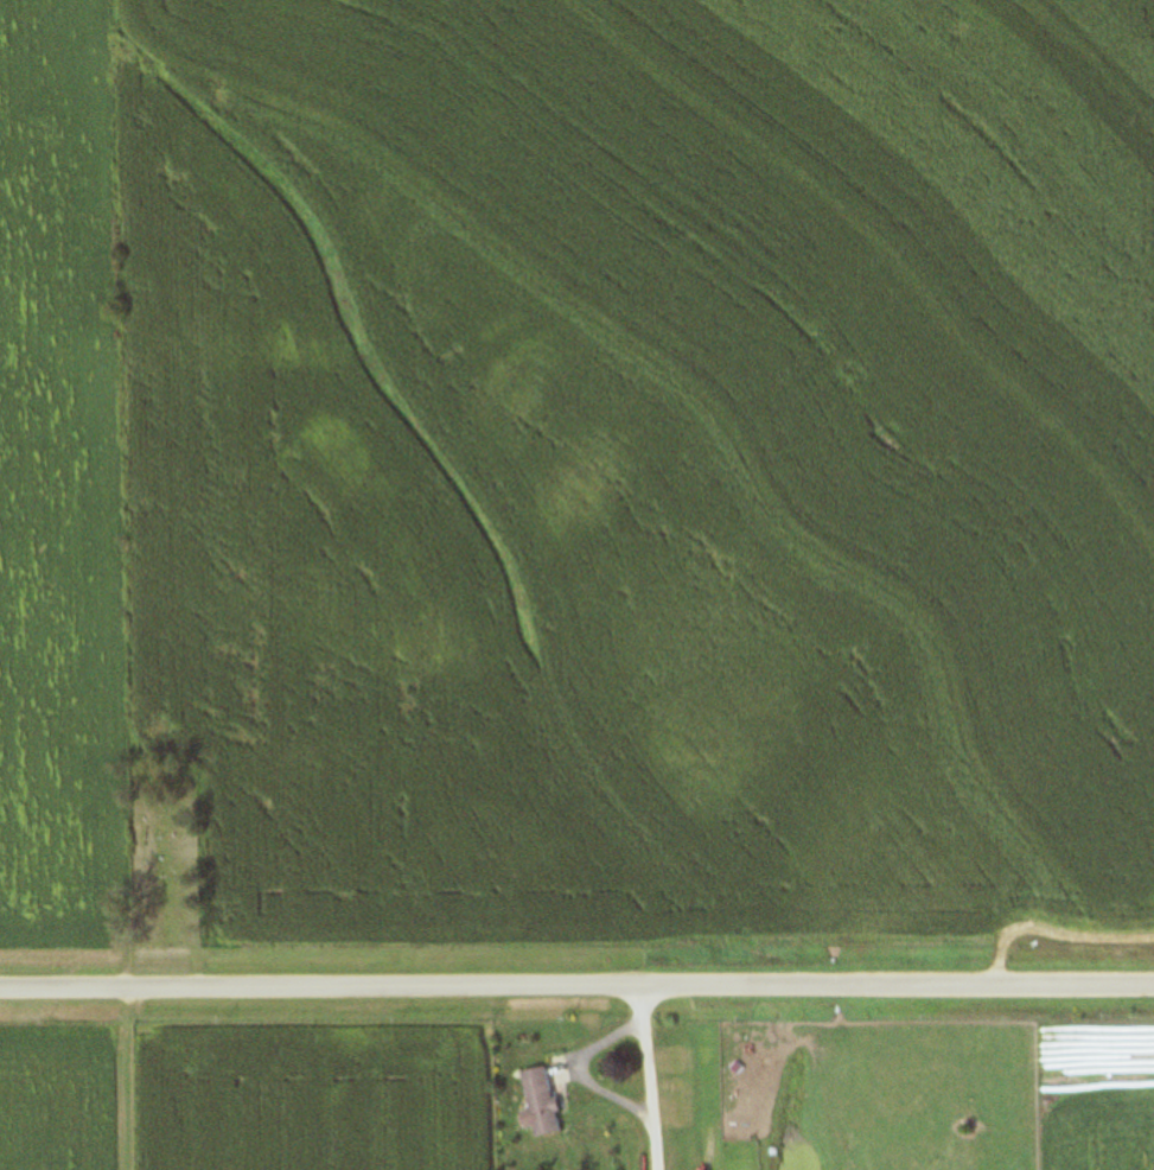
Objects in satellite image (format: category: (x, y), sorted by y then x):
road: (576, 997)
building: (547, 1104)

